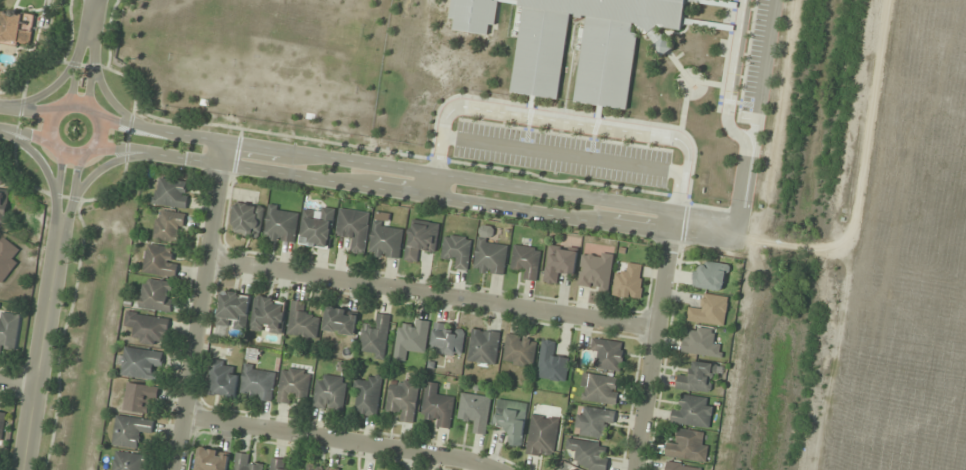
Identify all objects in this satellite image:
building: (473, 15)
building: (16, 29)
building: (586, 45)
building: (663, 46)
road: (78, 50)
road: (92, 52)
road: (55, 82)
road: (107, 99)
road: (89, 105)
road: (26, 108)
road: (24, 132)
road: (35, 159)
road: (115, 163)
road: (420, 171)
building: (171, 193)
road: (54, 194)
road: (416, 194)
road: (72, 196)
building: (3, 205)
building: (247, 219)
building: (281, 224)
building: (168, 226)
building: (317, 227)
building: (353, 228)
building: (385, 237)
building: (421, 239)
building: (457, 251)
building: (489, 254)
building: (6, 258)
building: (159, 261)
building: (526, 261)
building: (559, 264)
building: (595, 272)
building: (710, 276)
building: (628, 282)
road: (433, 291)
building: (156, 295)
road: (202, 306)
building: (232, 311)
building: (709, 311)
building: (268, 315)
building: (340, 321)
building: (302, 323)
building: (147, 329)
building: (9, 332)
building: (374, 337)
building: (411, 339)
building: (447, 339)
road: (653, 341)
building: (701, 343)
building: (483, 347)
building: (519, 351)
road: (38, 352)
building: (607, 354)
building: (551, 363)
building: (141, 364)
building: (697, 378)
building: (221, 380)
road: (16, 382)
building: (257, 383)
building: (293, 385)
building: (599, 389)
building: (329, 393)
building: (367, 396)
building: (139, 397)
building: (403, 400)
building: (437, 406)
building: (475, 411)
building: (692, 412)
building: (511, 420)
building: (592, 422)
building: (1, 424)
building: (130, 431)
building: (542, 436)
road: (339, 441)
building: (687, 447)
building: (588, 454)
building: (212, 460)
building: (129, 461)
building: (244, 463)
building: (277, 464)
building: (319, 467)
building: (683, 467)
building: (572, 468)

